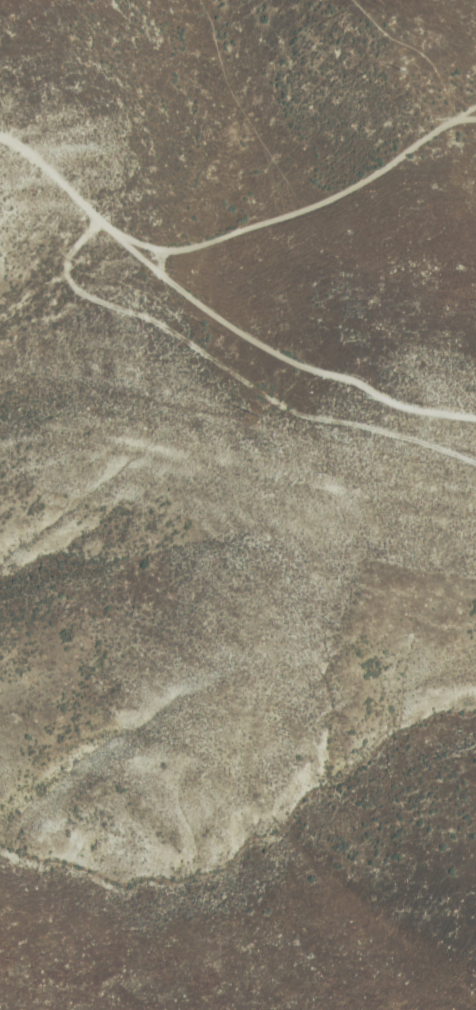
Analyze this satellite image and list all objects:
road: (217, 319)
road: (231, 373)

